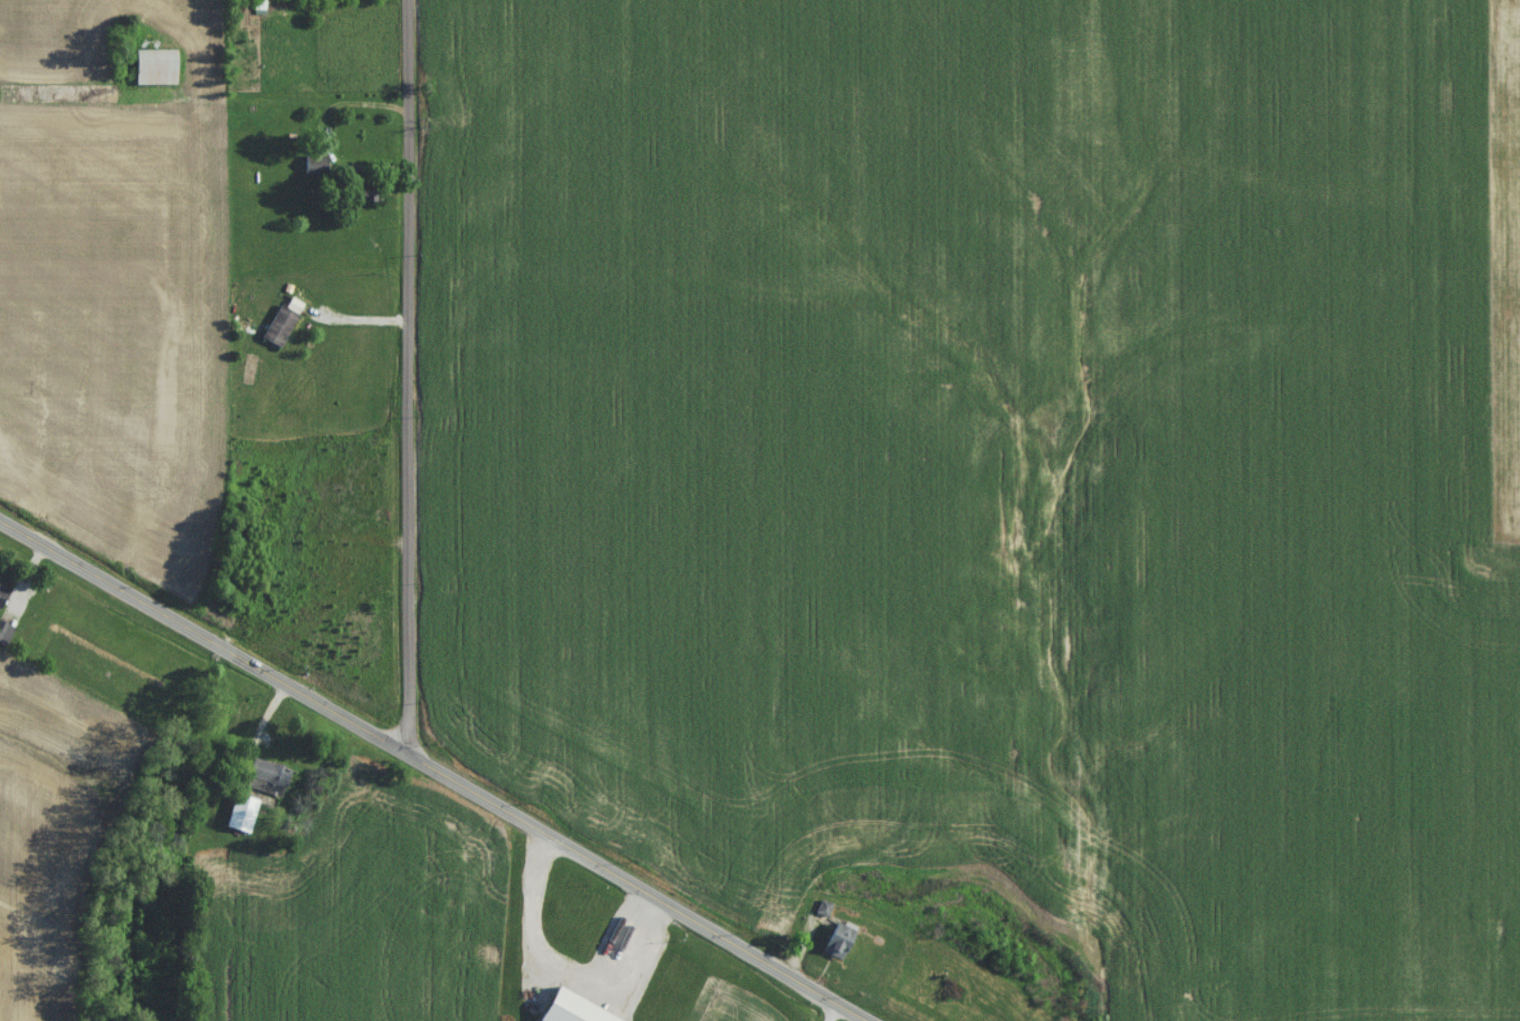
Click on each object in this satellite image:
building: (148, 71)
road: (210, 100)
road: (340, 168)
road: (359, 323)
building: (275, 330)
road: (410, 375)
building: (3, 597)
building: (5, 637)
road: (439, 764)
building: (266, 781)
building: (243, 817)
building: (833, 943)
building: (561, 1010)
road: (834, 1010)

